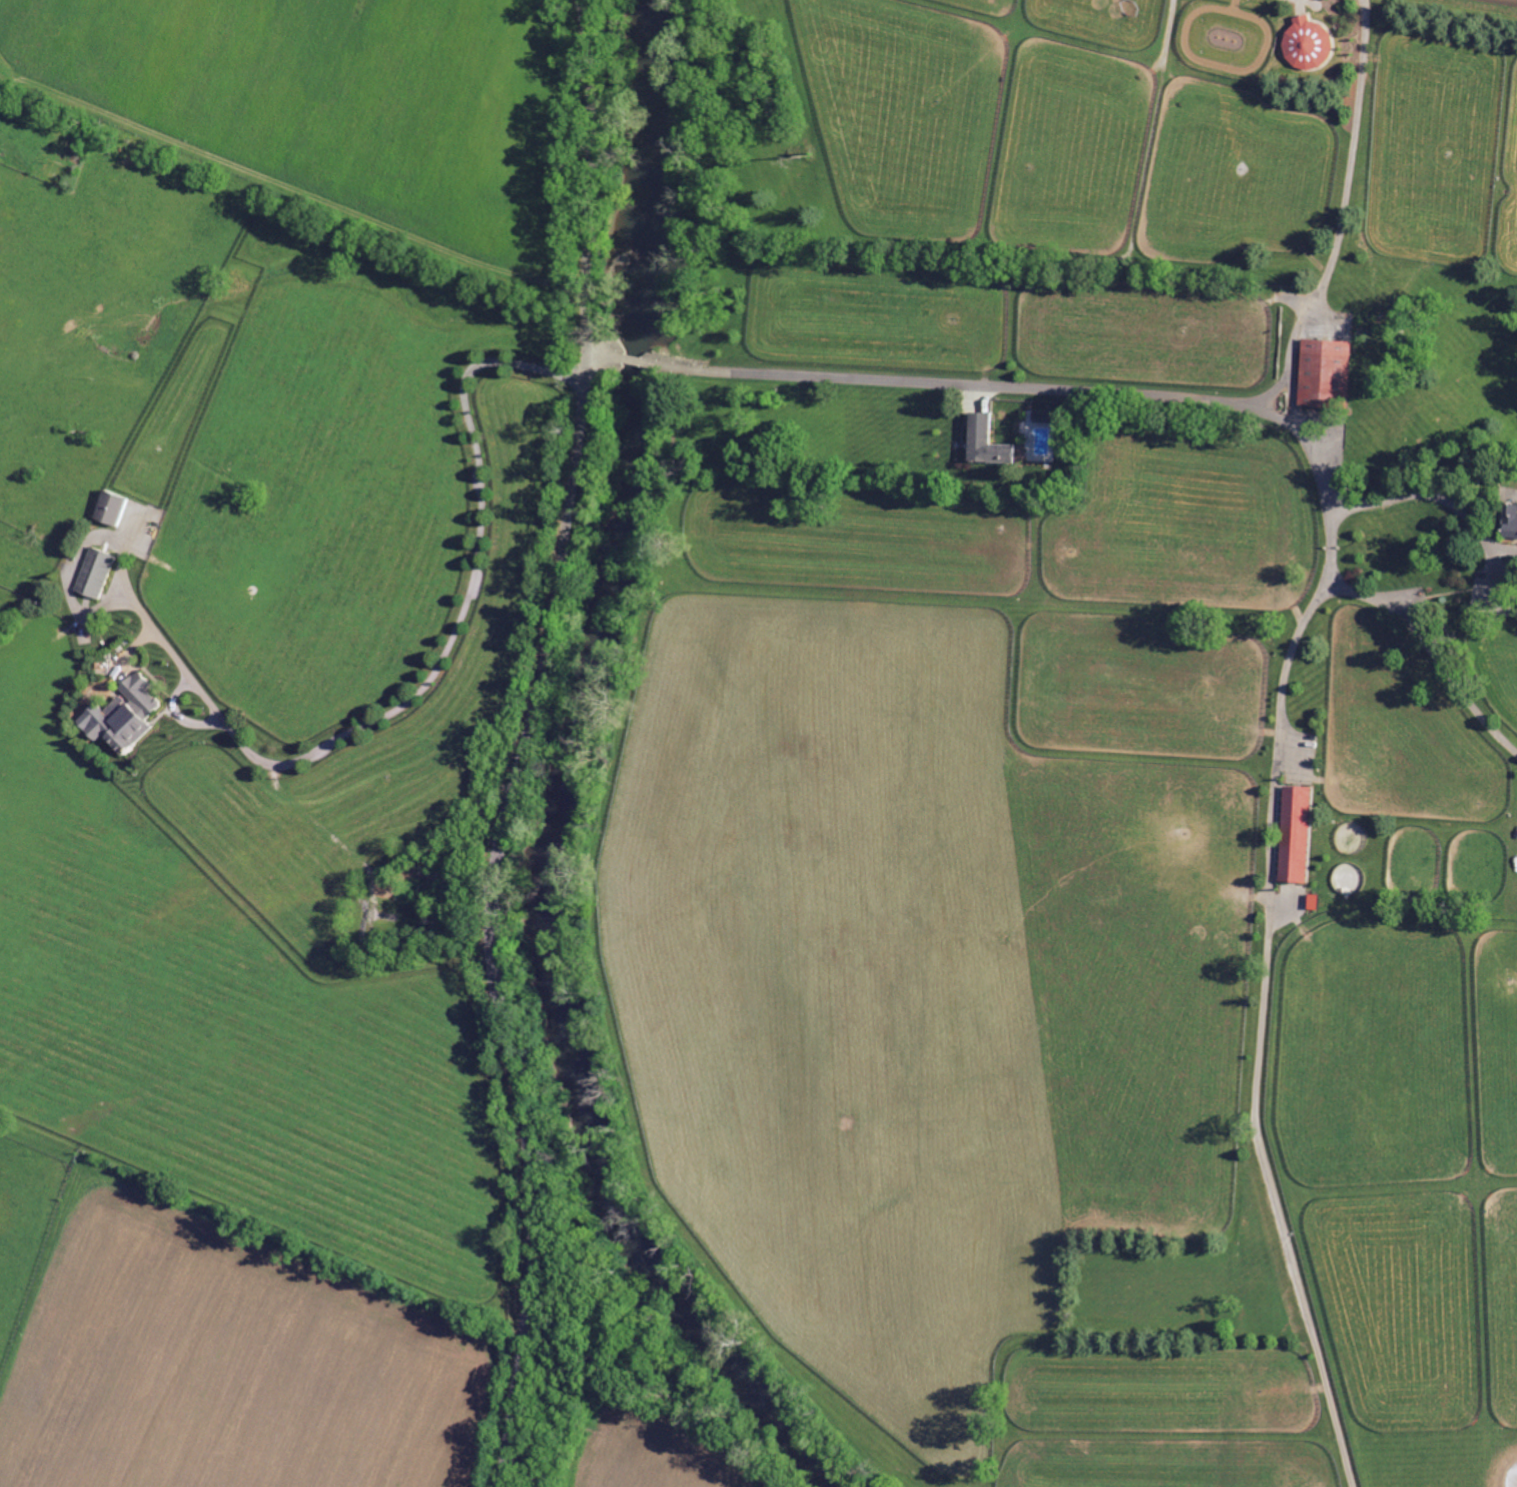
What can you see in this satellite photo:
road: (290, 187)
road: (1343, 205)
road: (606, 356)
road: (633, 360)
building: (1322, 373)
road: (1191, 398)
building: (983, 442)
road: (1448, 503)
building: (108, 509)
building: (1509, 521)
road: (1501, 548)
building: (93, 573)
building: (123, 715)
road: (353, 729)
road: (525, 744)
river: (566, 789)
building: (1292, 832)
building: (1310, 901)
road: (1261, 1034)

